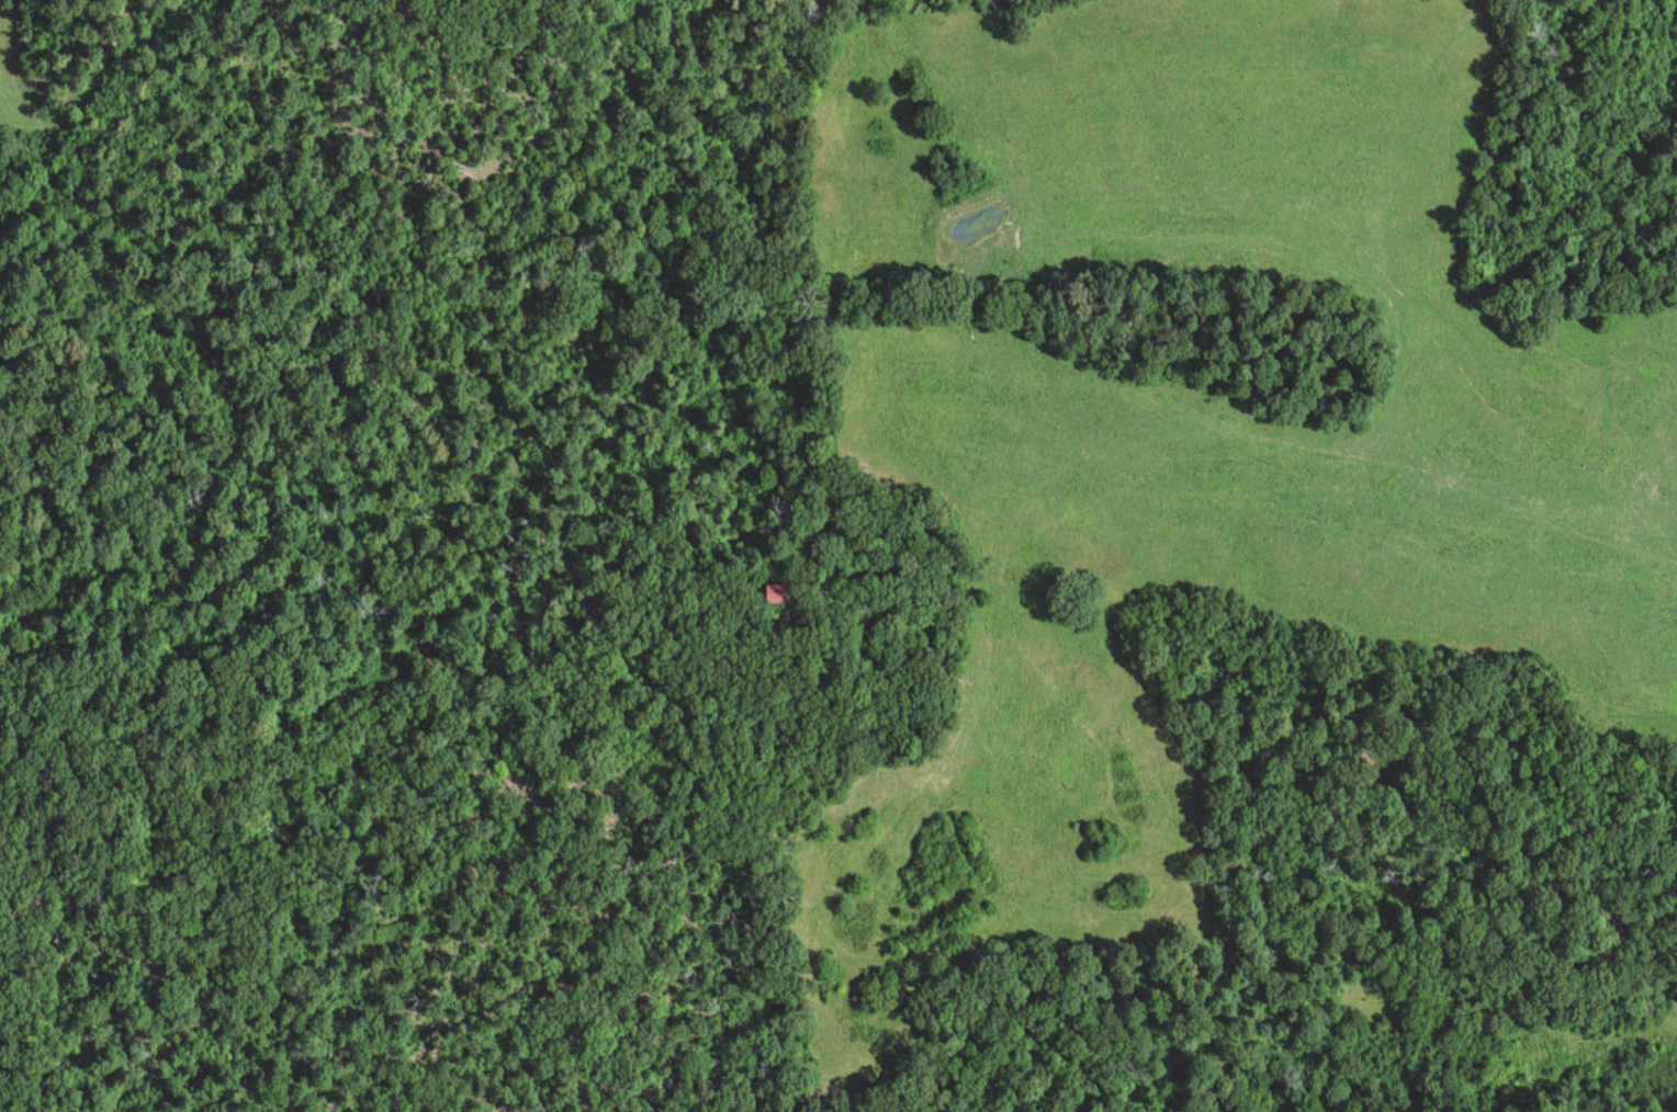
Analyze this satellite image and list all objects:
building: (773, 595)

